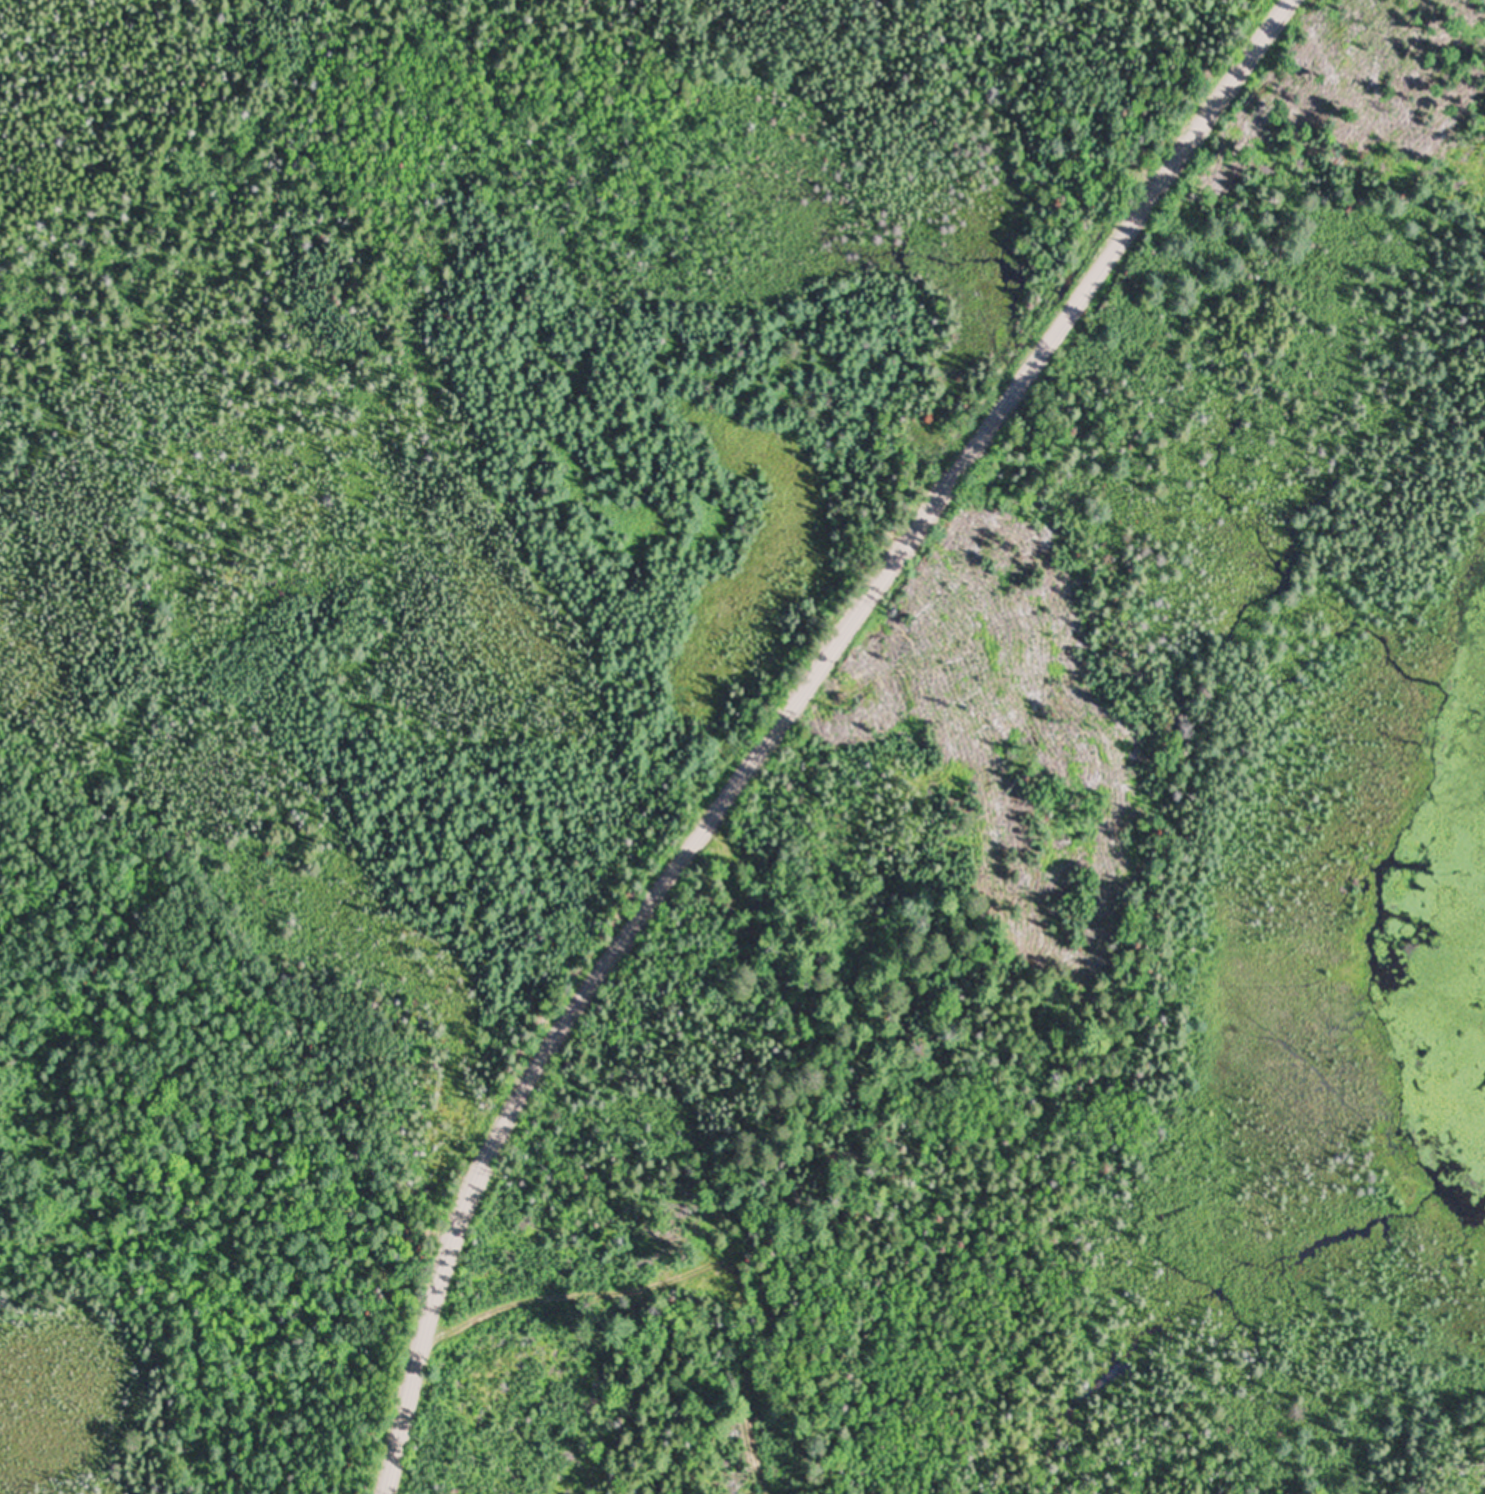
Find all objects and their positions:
road: (784, 718)

